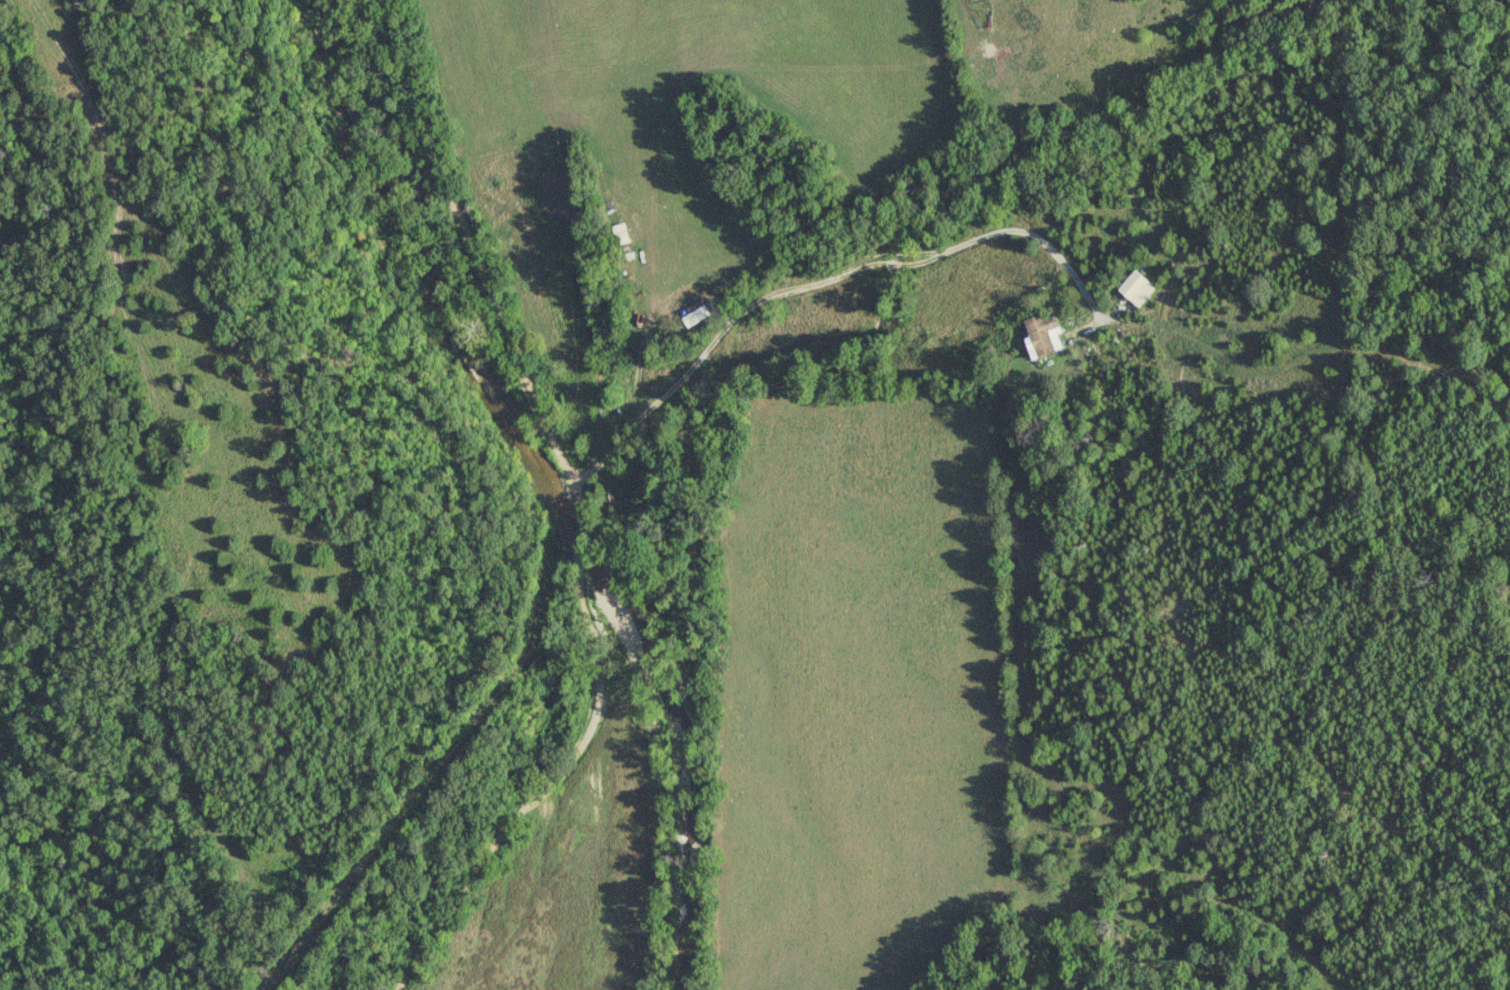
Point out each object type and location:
road: (815, 283)
building: (1136, 289)
building: (1043, 335)
road: (562, 512)

